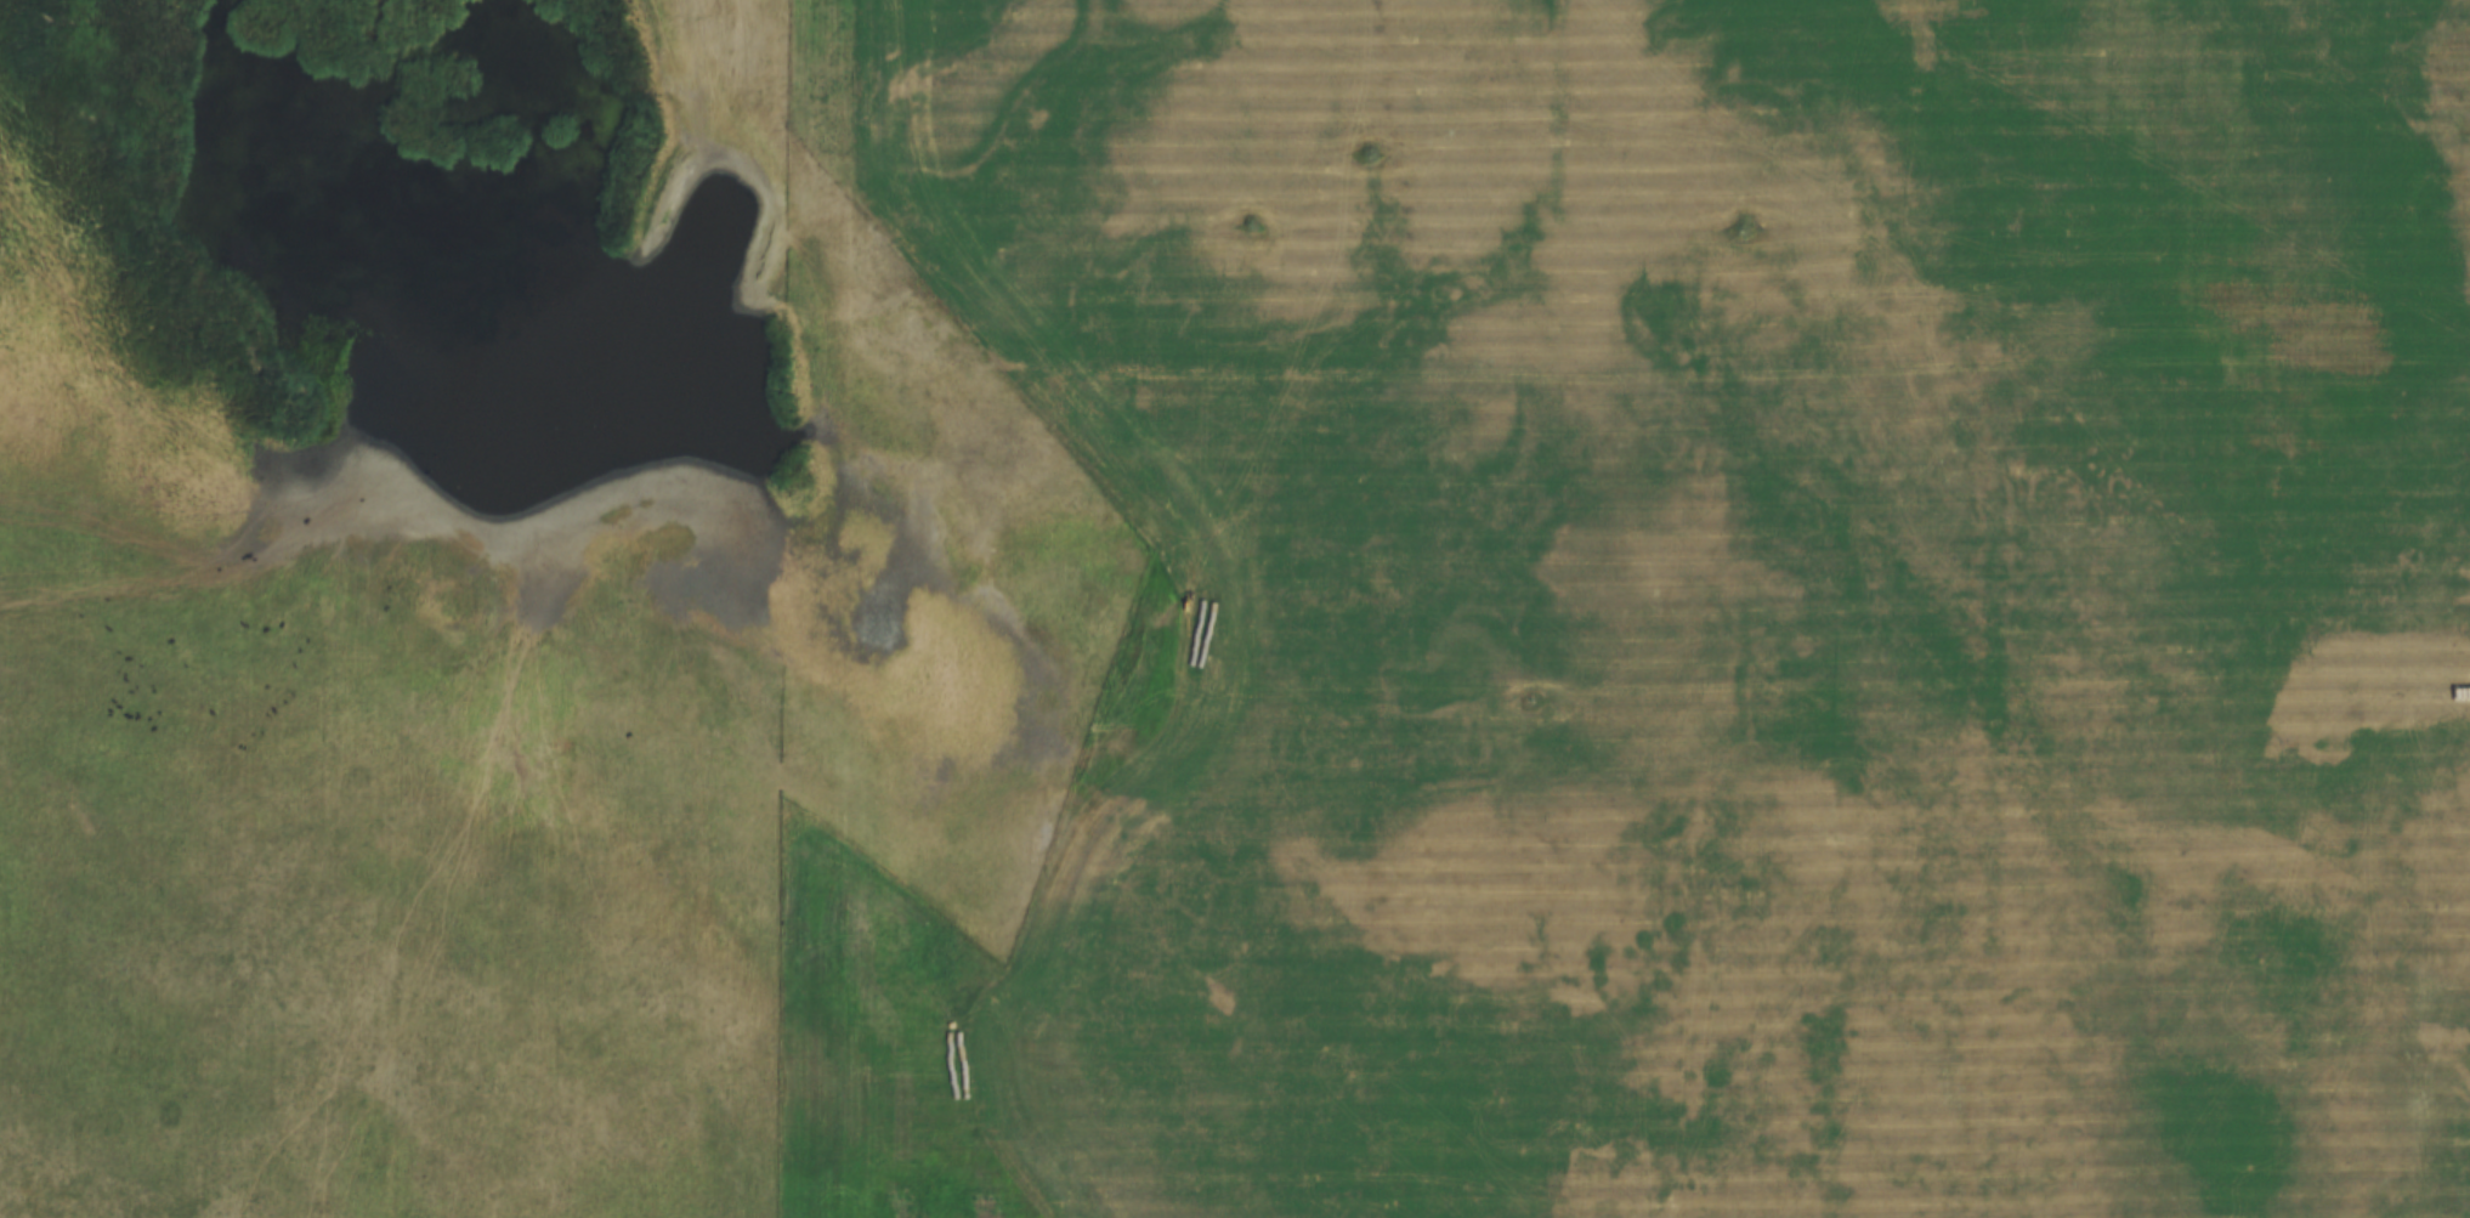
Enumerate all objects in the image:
building: (1938, 629)

